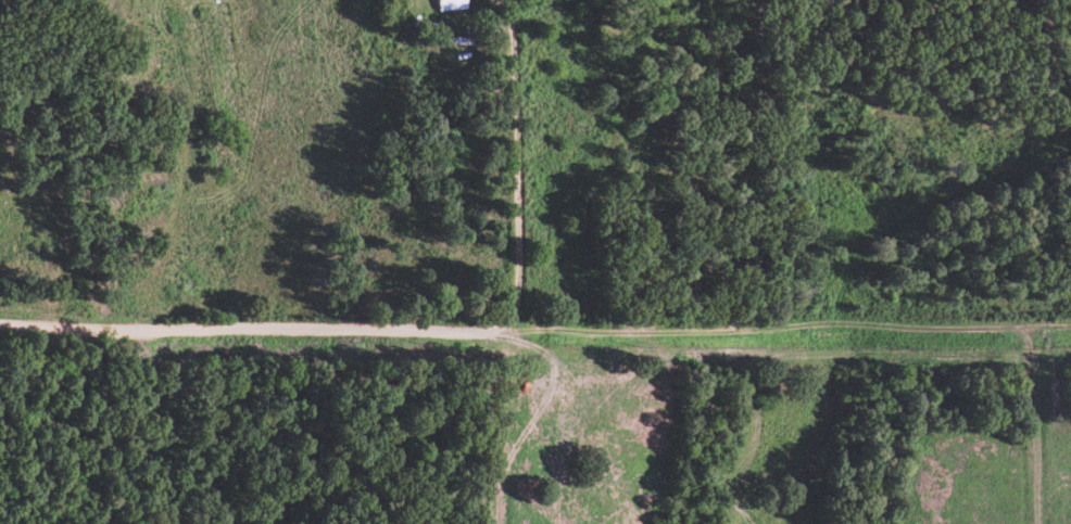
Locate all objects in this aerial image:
building: (449, 5)
road: (516, 170)
road: (858, 319)
road: (243, 328)
road: (1031, 523)

